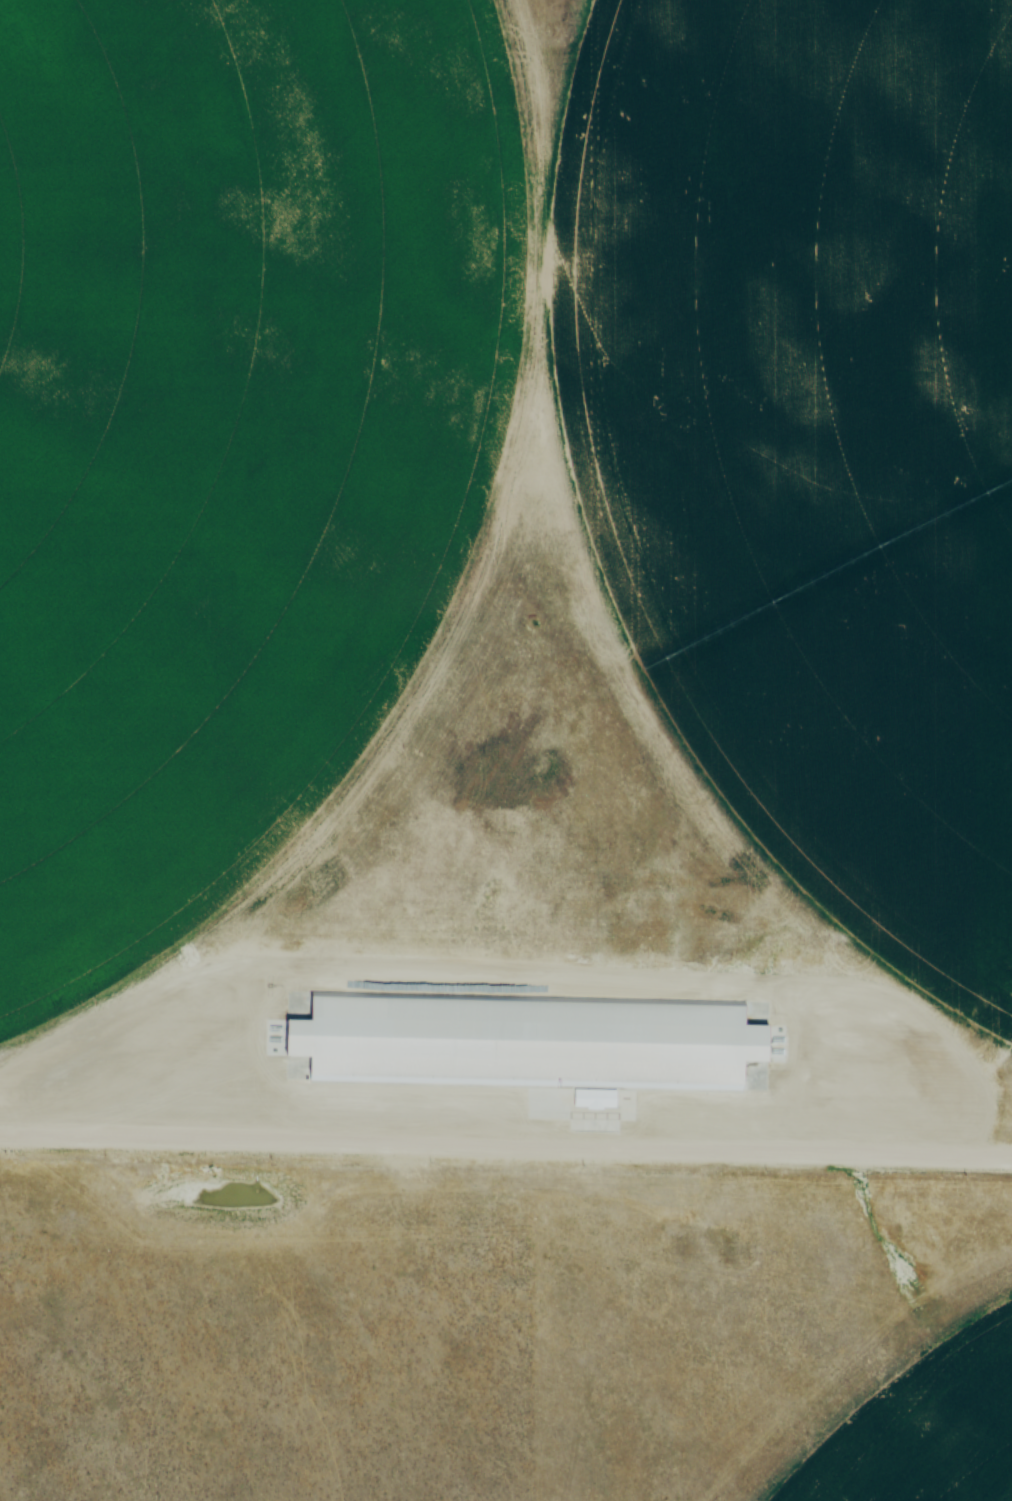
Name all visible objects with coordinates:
crop: (230, 433)
crop: (808, 433)
building: (526, 1037)
road: (506, 1142)
crop: (927, 1430)

